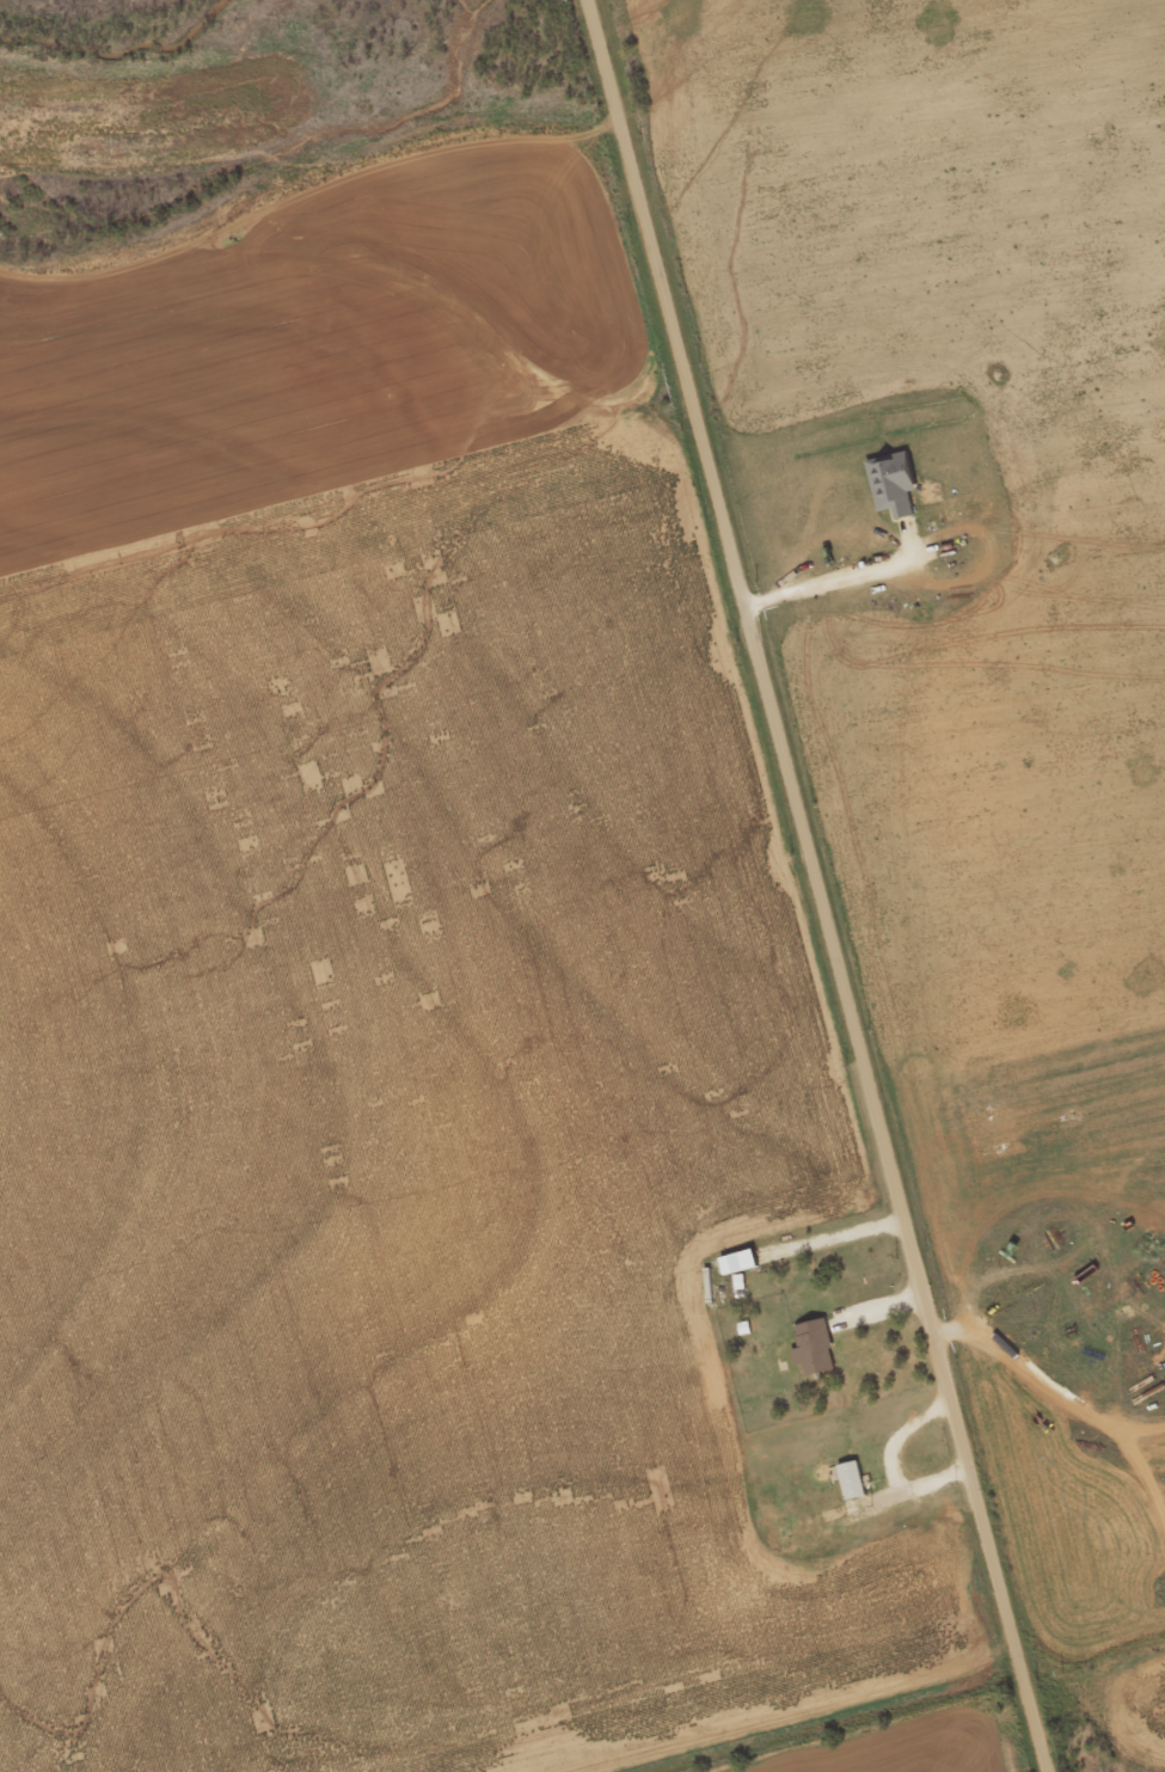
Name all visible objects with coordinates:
building: (890, 491)
road: (824, 885)
road: (850, 1232)
building: (737, 1270)
building: (738, 1290)
building: (813, 1356)
road: (893, 1460)
building: (851, 1489)
building: (834, 1522)

